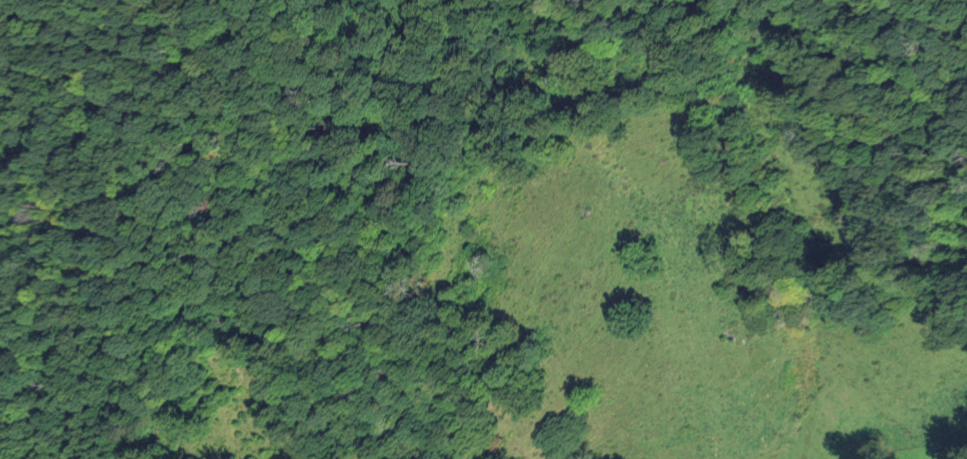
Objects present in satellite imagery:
park: (919, 453)

